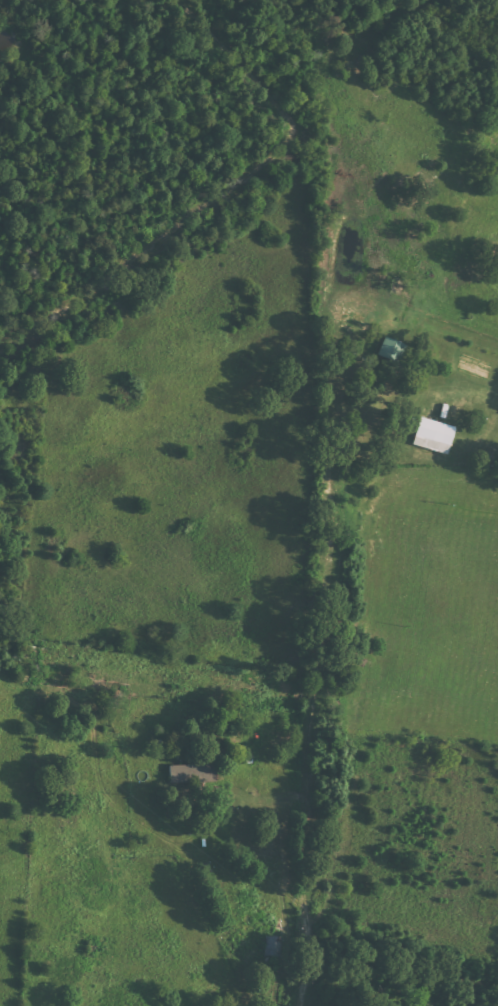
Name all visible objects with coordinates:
road: (37, 15)
road: (49, 154)
building: (431, 436)
road: (37, 508)
road: (18, 563)
building: (271, 946)

